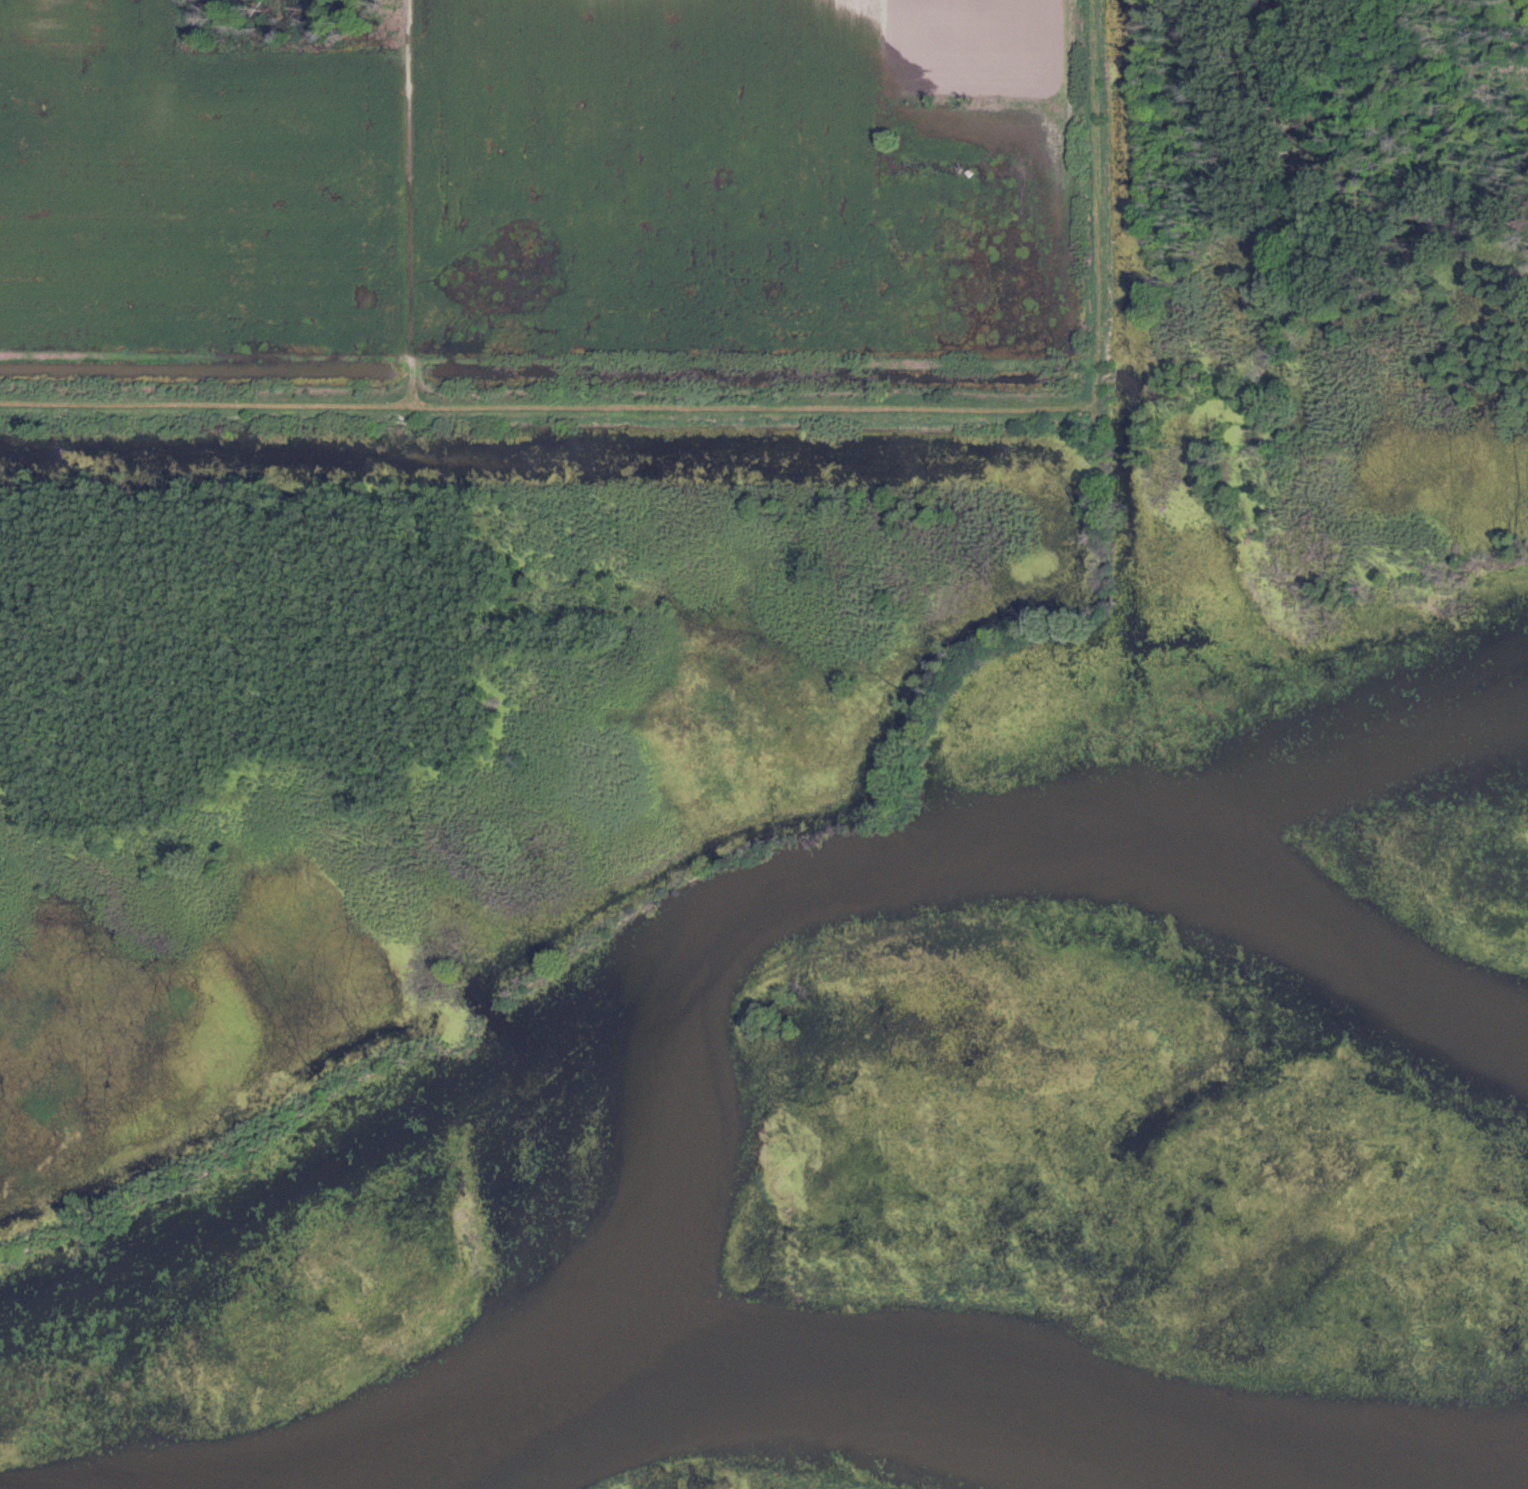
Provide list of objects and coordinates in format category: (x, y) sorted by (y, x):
river: (852, 1361)

